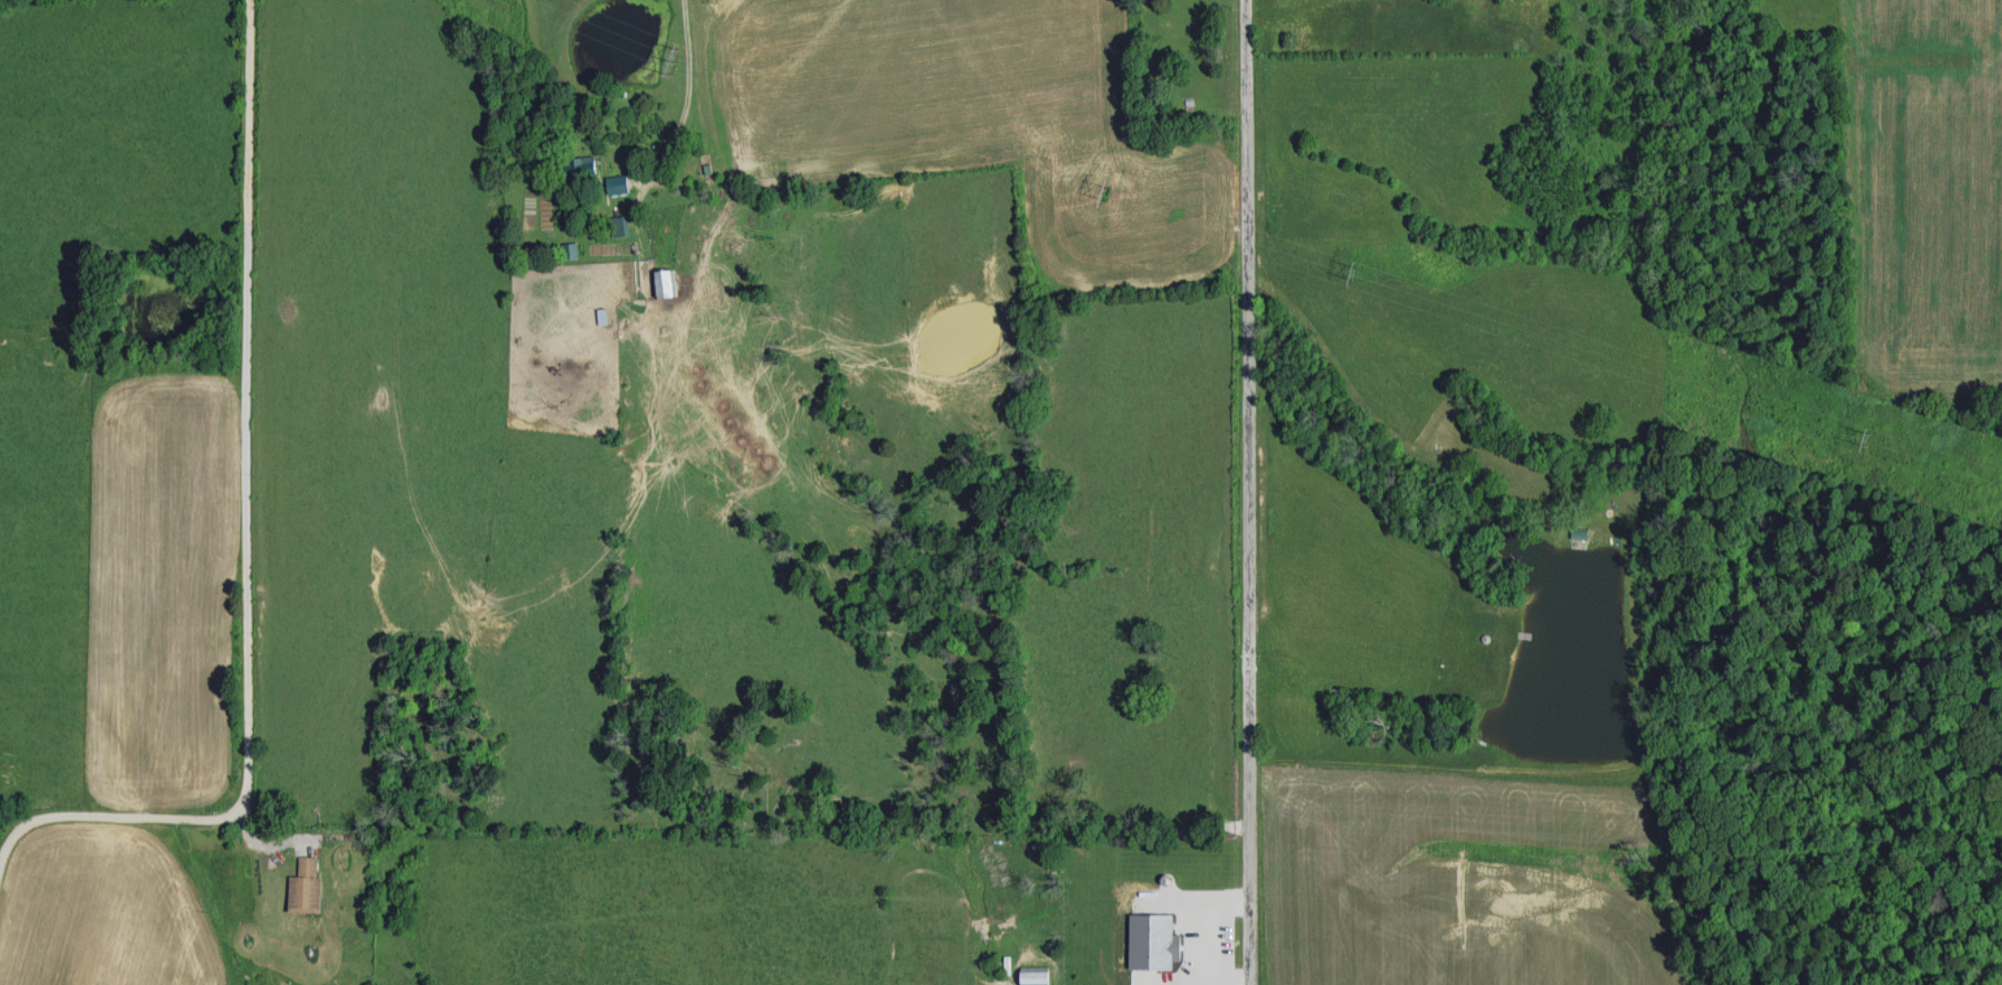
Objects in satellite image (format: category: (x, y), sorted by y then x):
power tower: (676, 60)
road: (688, 78)
building: (618, 183)
power tower: (1107, 190)
building: (621, 224)
building: (571, 249)
power tower: (1352, 273)
building: (666, 281)
power tower: (1872, 439)
road: (1247, 492)
road: (244, 538)
building: (306, 886)
building: (1035, 975)

